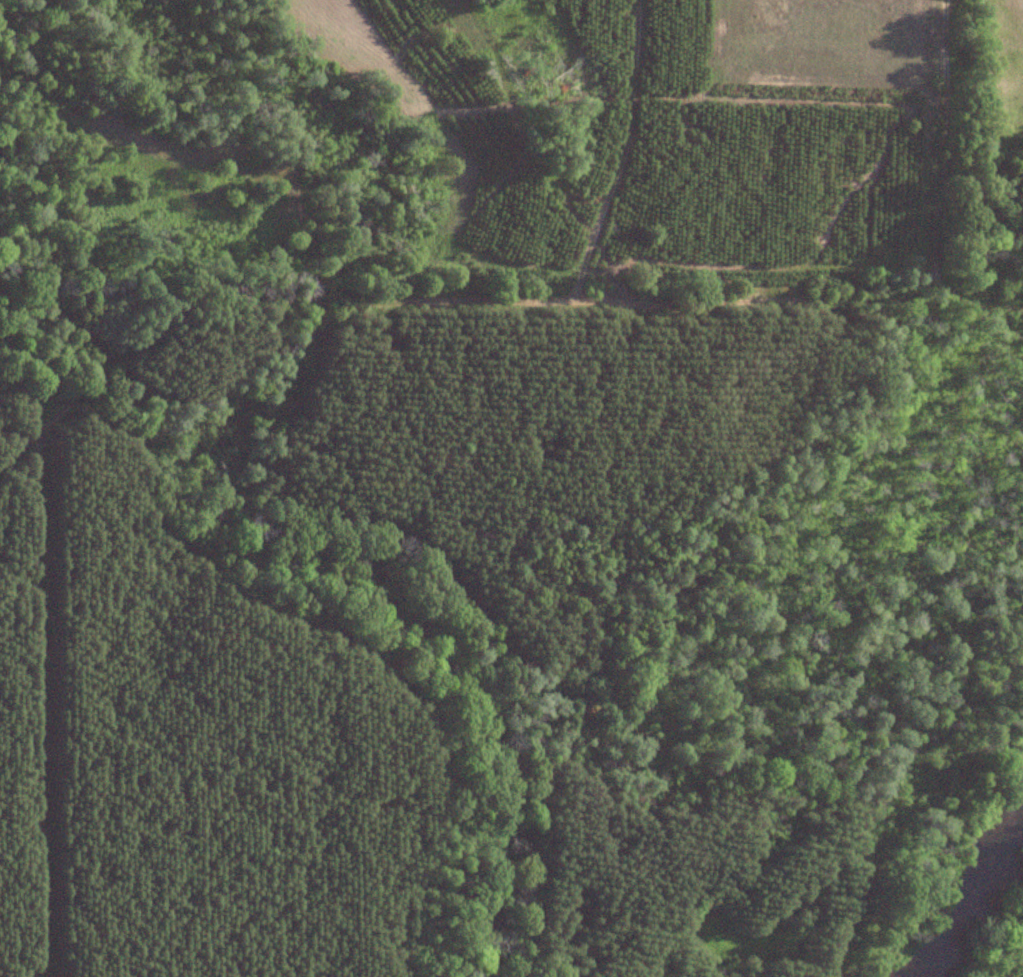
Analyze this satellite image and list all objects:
river: (975, 894)

